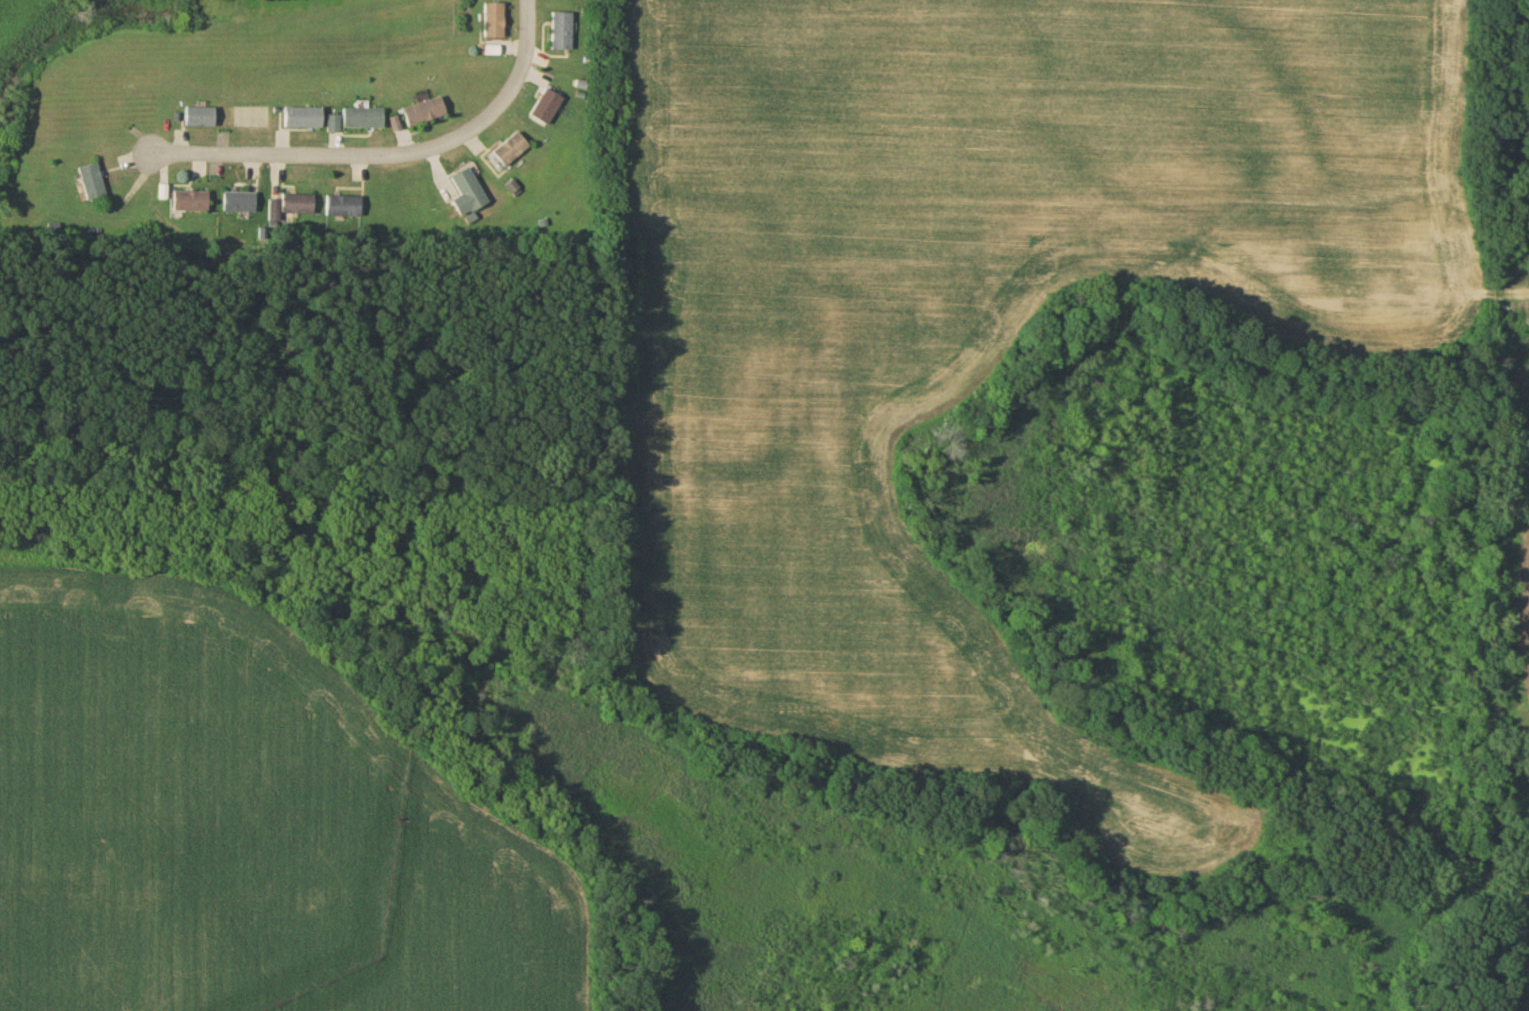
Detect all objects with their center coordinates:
road: (528, 19)
building: (491, 21)
building: (559, 32)
building: (420, 112)
building: (197, 117)
building: (300, 118)
building: (360, 118)
building: (330, 123)
building: (508, 150)
road: (365, 153)
building: (88, 182)
building: (464, 193)
building: (187, 202)
building: (236, 203)
building: (288, 207)
building: (340, 207)

